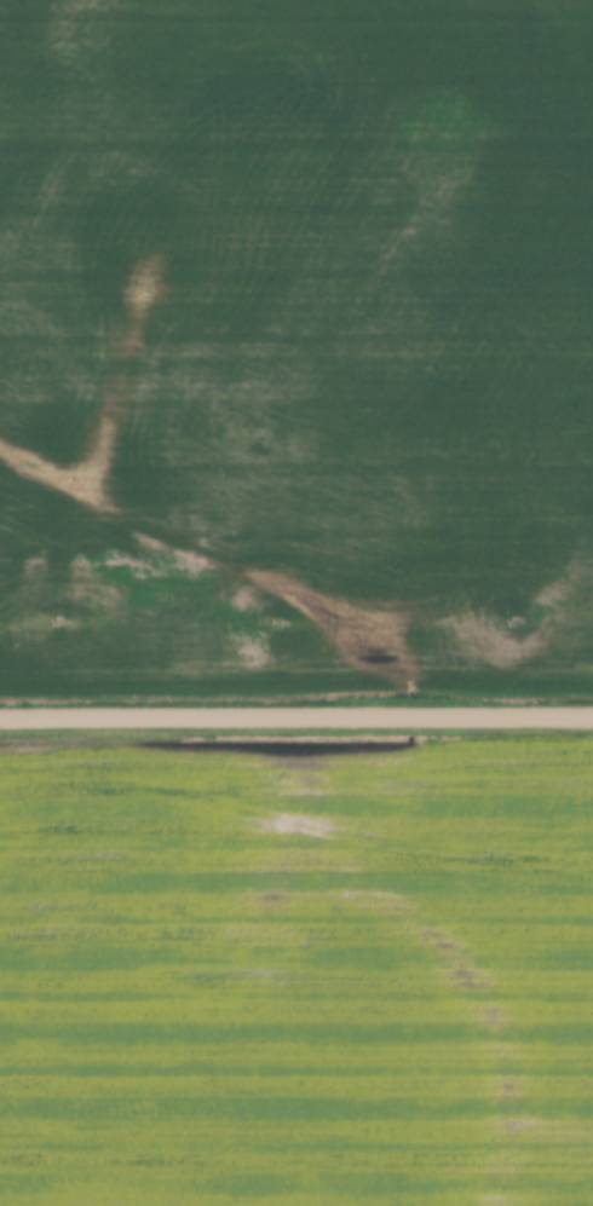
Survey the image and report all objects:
road: (296, 717)

